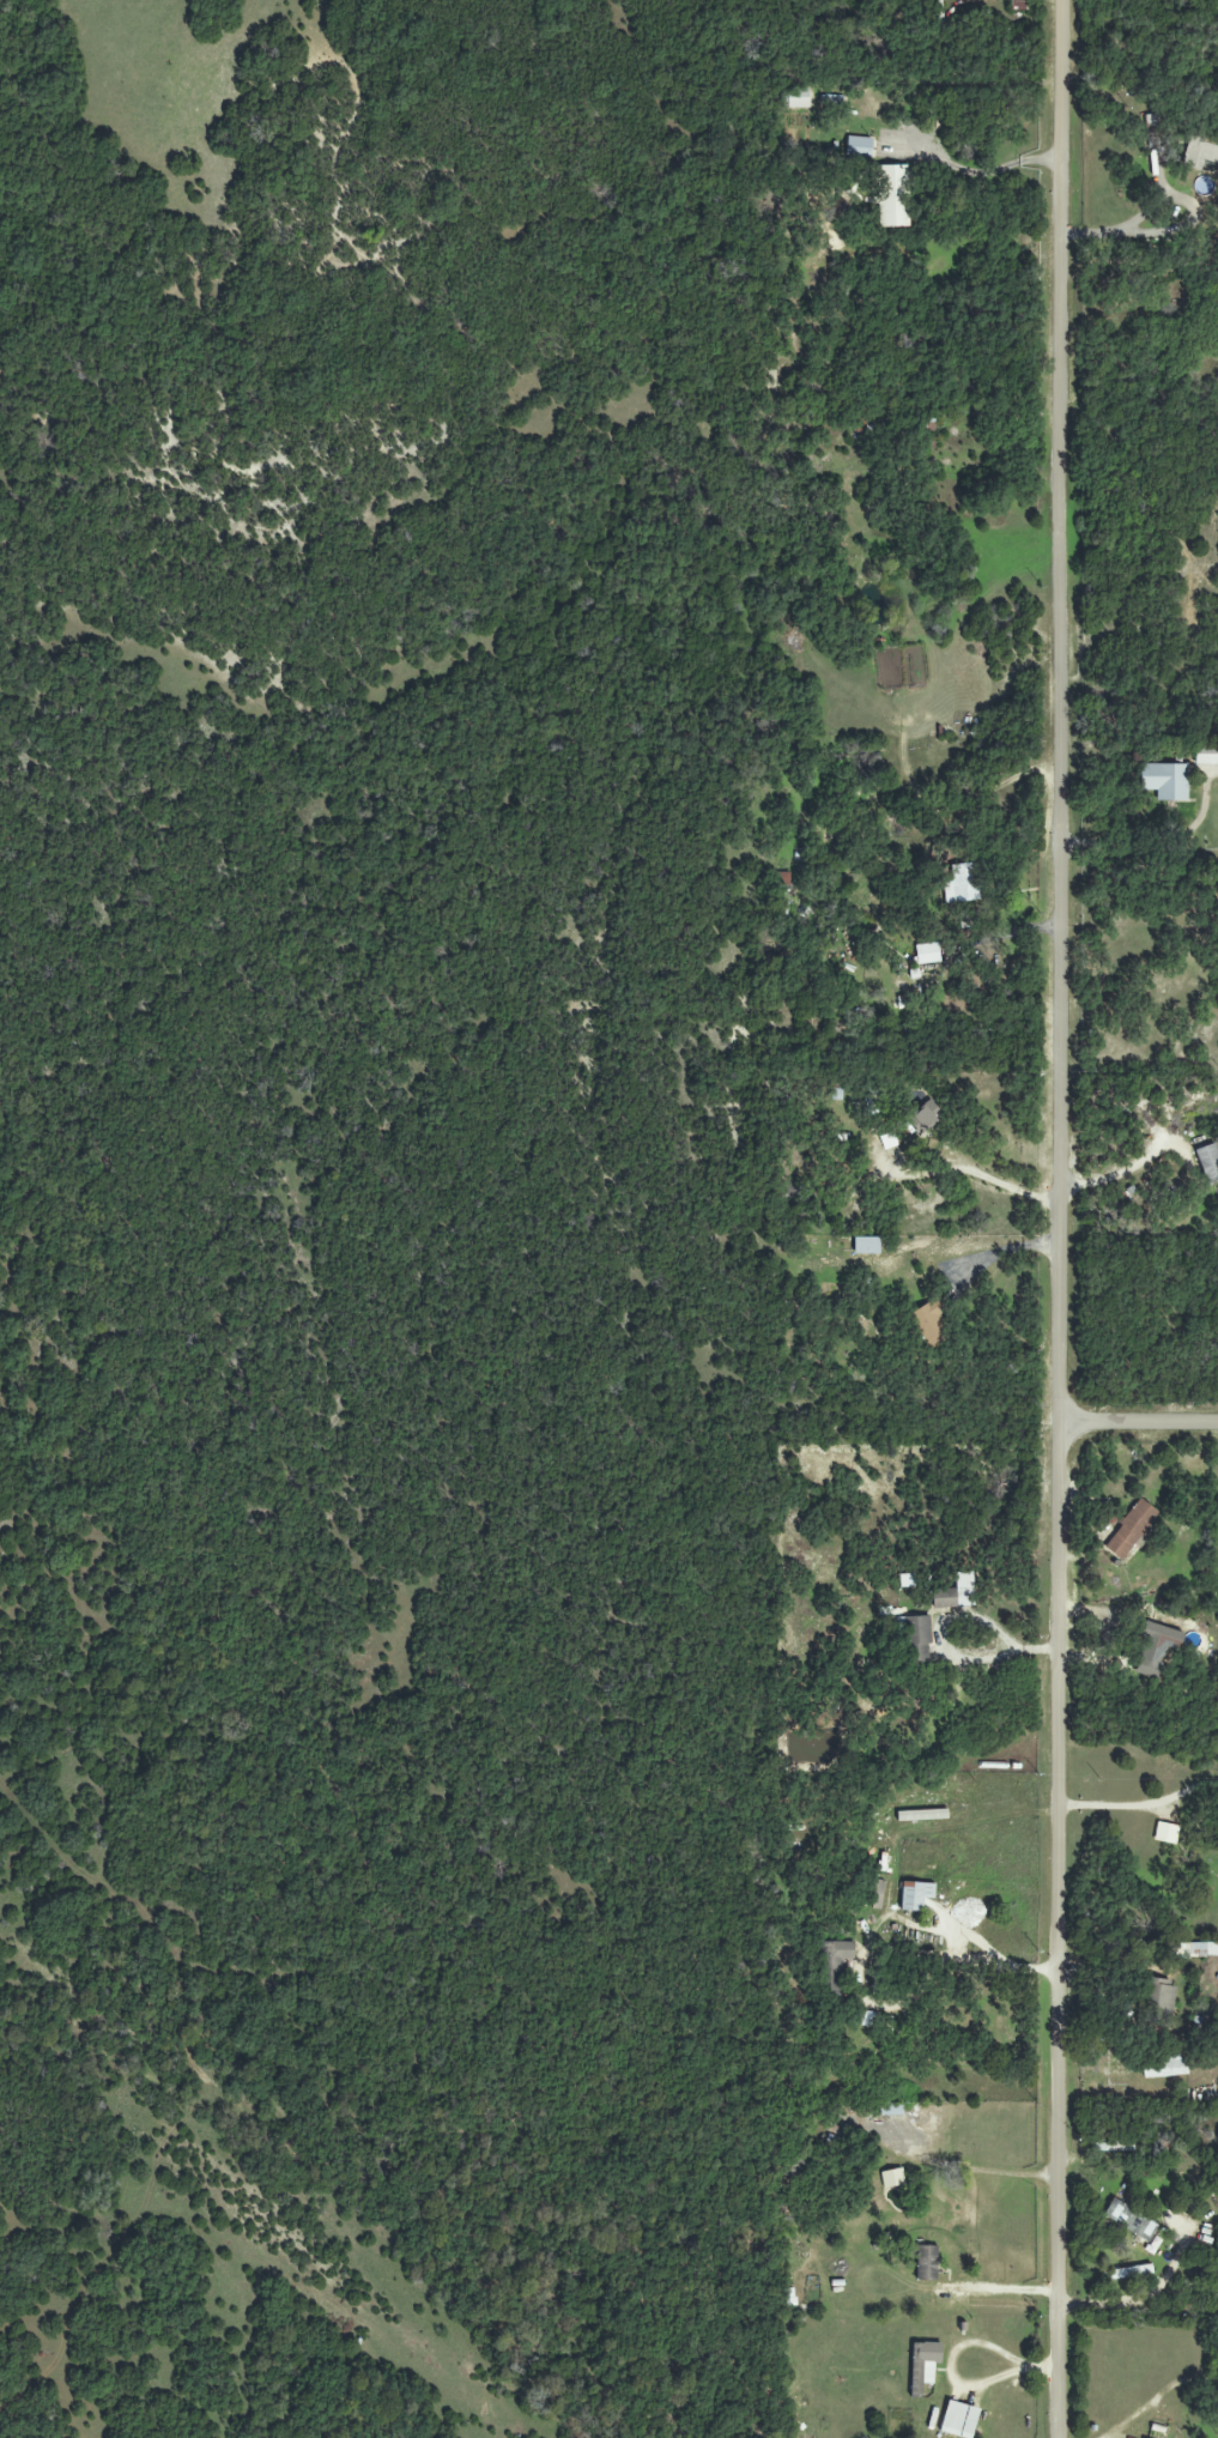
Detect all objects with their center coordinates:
building: (1017, 4)
building: (799, 97)
building: (859, 147)
building: (1199, 153)
road: (976, 173)
building: (891, 195)
road: (1126, 223)
building: (1206, 758)
building: (1164, 780)
building: (962, 884)
building: (927, 954)
road: (913, 976)
road: (1122, 1010)
building: (926, 1115)
building: (1210, 1167)
road: (1122, 1170)
road: (939, 1184)
road: (1061, 1218)
building: (866, 1246)
building: (929, 1323)
road: (908, 1367)
road: (1139, 1424)
building: (1131, 1529)
building: (956, 1593)
building: (920, 1640)
road: (947, 1647)
building: (1156, 1648)
road: (1140, 1805)
building: (877, 1894)
building: (915, 1895)
building: (1195, 1949)
road: (963, 1958)
building: (835, 1962)
building: (1156, 2000)
building: (869, 2019)
building: (1163, 2067)
building: (892, 2109)
road: (978, 2170)
building: (892, 2178)
building: (1131, 2219)
building: (927, 2262)
building: (1129, 2271)
road: (1000, 2289)
road: (1140, 2299)
road: (952, 2353)
building: (923, 2365)
road: (1159, 2398)
building: (959, 2420)

